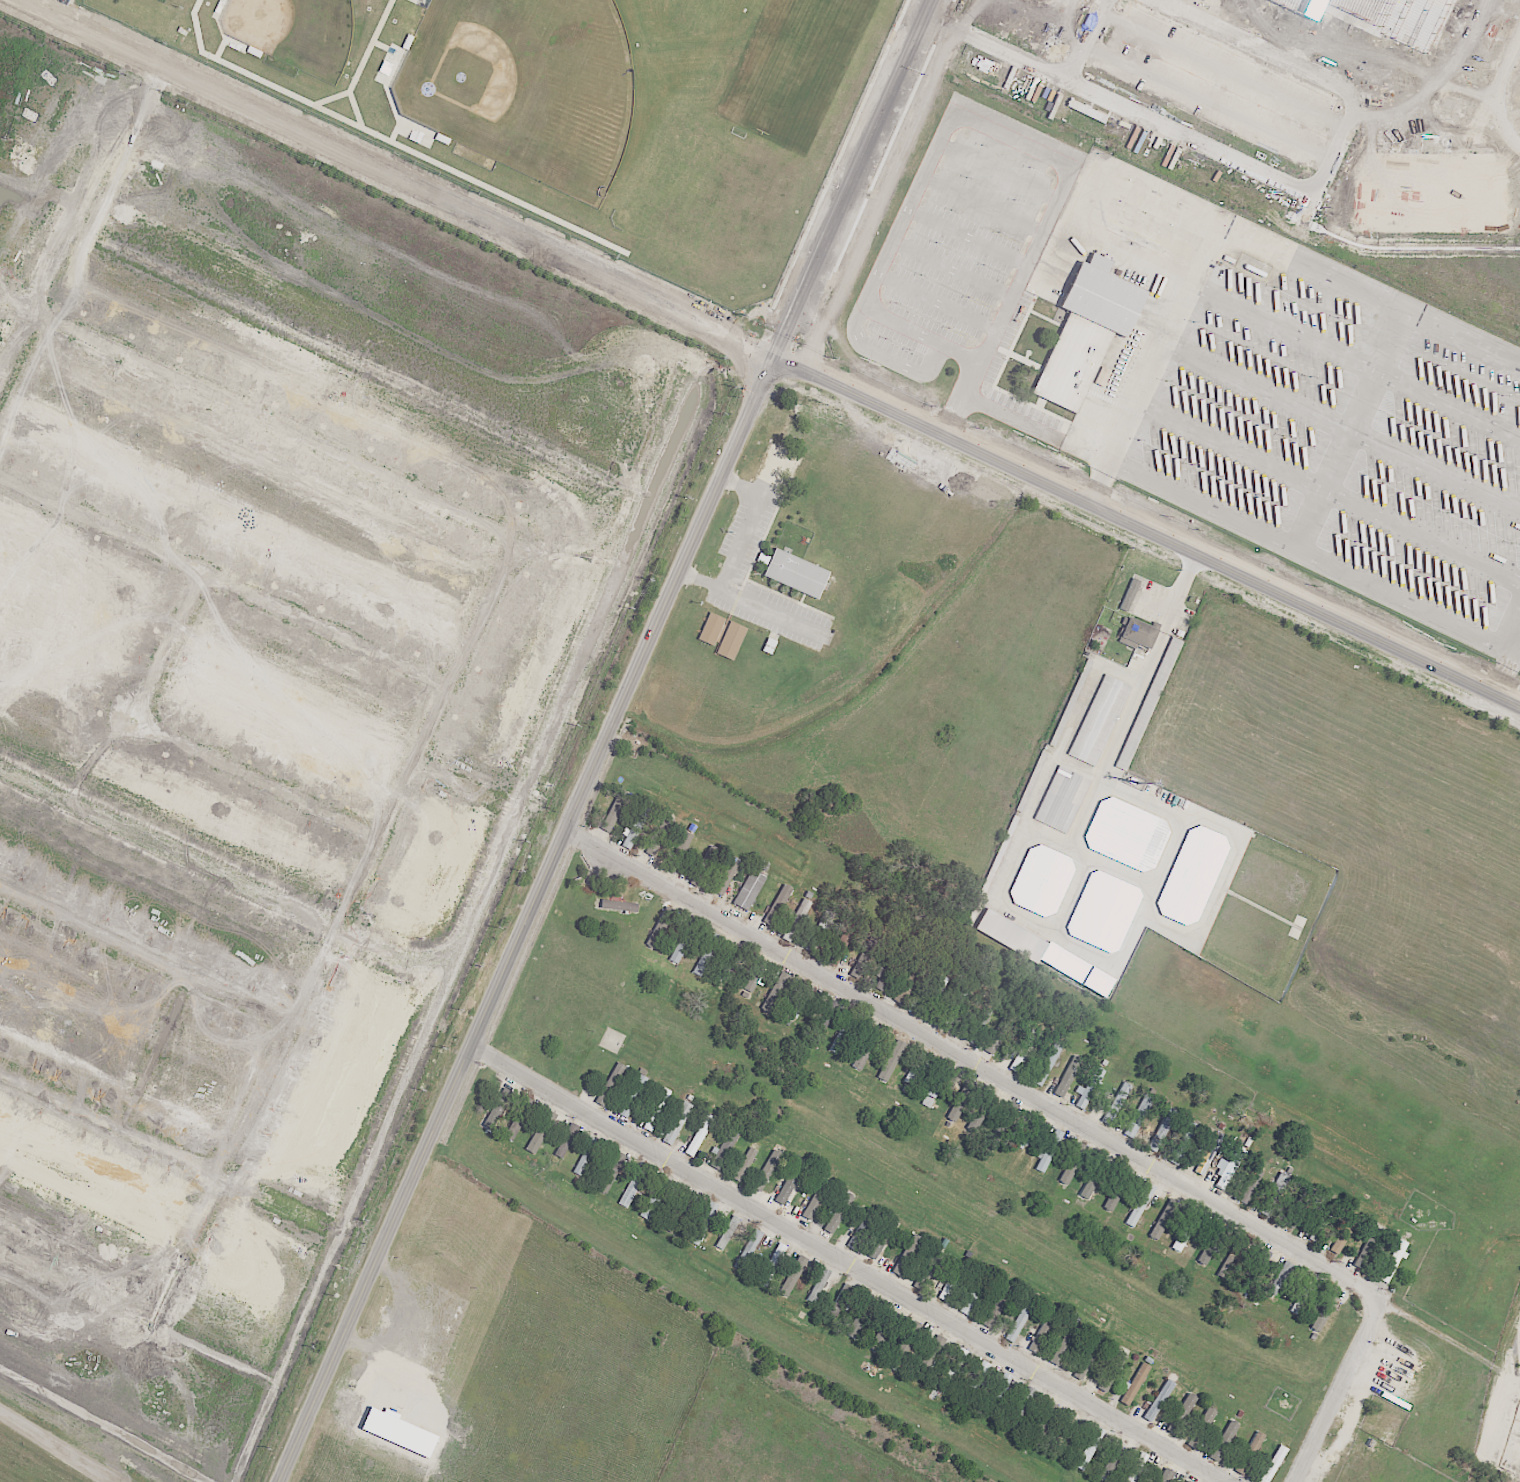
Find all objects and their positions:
road: (65, 9)
park: (295, 34)
park: (527, 87)
road: (952, 120)
road: (74, 217)
building: (1086, 332)
road: (770, 355)
traffic signals: (774, 357)
road: (261, 417)
road: (1016, 418)
road: (1375, 438)
road: (1098, 482)
road: (740, 541)
road: (1309, 557)
building: (796, 575)
road: (225, 584)
building: (1129, 595)
road: (760, 606)
building: (711, 629)
building: (1137, 634)
building: (730, 641)
road: (1516, 644)
road: (166, 646)
road: (1502, 674)
building: (1148, 704)
building: (1099, 720)
road: (605, 740)
road: (1107, 750)
road: (257, 779)
building: (1034, 779)
road: (492, 796)
building: (1062, 800)
building: (613, 811)
building: (636, 825)
building: (658, 834)
building: (677, 852)
building: (706, 862)
building: (1192, 876)
building: (725, 878)
building: (1041, 881)
building: (749, 890)
building: (618, 906)
building: (776, 907)
building: (795, 918)
building: (660, 928)
road: (337, 935)
building: (817, 936)
building: (1011, 936)
building: (683, 941)
building: (839, 948)
building: (706, 954)
road: (146, 958)
building: (882, 979)
building: (750, 983)
building: (775, 992)
building: (933, 995)
building: (799, 1002)
building: (951, 1012)
building: (851, 1043)
building: (990, 1043)
building: (1023, 1051)
building: (914, 1075)
building: (1068, 1076)
building: (610, 1084)
building: (935, 1086)
building: (1089, 1088)
building: (630, 1099)
building: (1117, 1103)
building: (656, 1109)
building: (955, 1109)
road: (1064, 1114)
building: (1139, 1117)
building: (975, 1120)
building: (1001, 1122)
building: (677, 1123)
building: (1162, 1129)
building: (539, 1131)
building: (1029, 1132)
building: (699, 1135)
building: (1183, 1143)
building: (563, 1145)
building: (1207, 1150)
road: (192, 1156)
building: (585, 1156)
building: (744, 1164)
building: (1072, 1165)
building: (1227, 1168)
building: (766, 1171)
building: (610, 1174)
building: (1093, 1177)
building: (632, 1186)
building: (789, 1189)
building: (1115, 1194)
building: (1270, 1196)
building: (651, 1201)
building: (1139, 1206)
building: (1298, 1207)
building: (838, 1212)
building: (1163, 1220)
building: (703, 1223)
building: (1186, 1230)
building: (727, 1232)
building: (1367, 1248)
building: (1209, 1249)
building: (748, 1250)
building: (930, 1263)
building: (772, 1264)
road: (848, 1264)
building: (1227, 1265)
building: (1256, 1269)
building: (792, 1276)
building: (1280, 1278)
building: (950, 1282)
building: (817, 1285)
road: (74, 1292)
building: (974, 1292)
building: (1302, 1295)
building: (841, 1299)
building: (997, 1305)
building: (1323, 1311)
building: (857, 1321)
building: (1019, 1322)
building: (1042, 1334)
building: (879, 1337)
road: (1448, 1340)
building: (904, 1341)
road: (1502, 1354)
building: (929, 1355)
building: (1082, 1368)
building: (952, 1369)
building: (1110, 1370)
building: (976, 1382)
building: (1134, 1383)
building: (1019, 1407)
building: (1183, 1411)
building: (1205, 1421)
building: (1042, 1423)
building: (1067, 1432)
building: (1223, 1441)
building: (1254, 1443)
road: (59, 1446)
building: (1089, 1449)
building: (1110, 1464)
building: (1273, 1464)
building: (1138, 1466)
building: (1164, 1475)
building: (1185, 1481)

